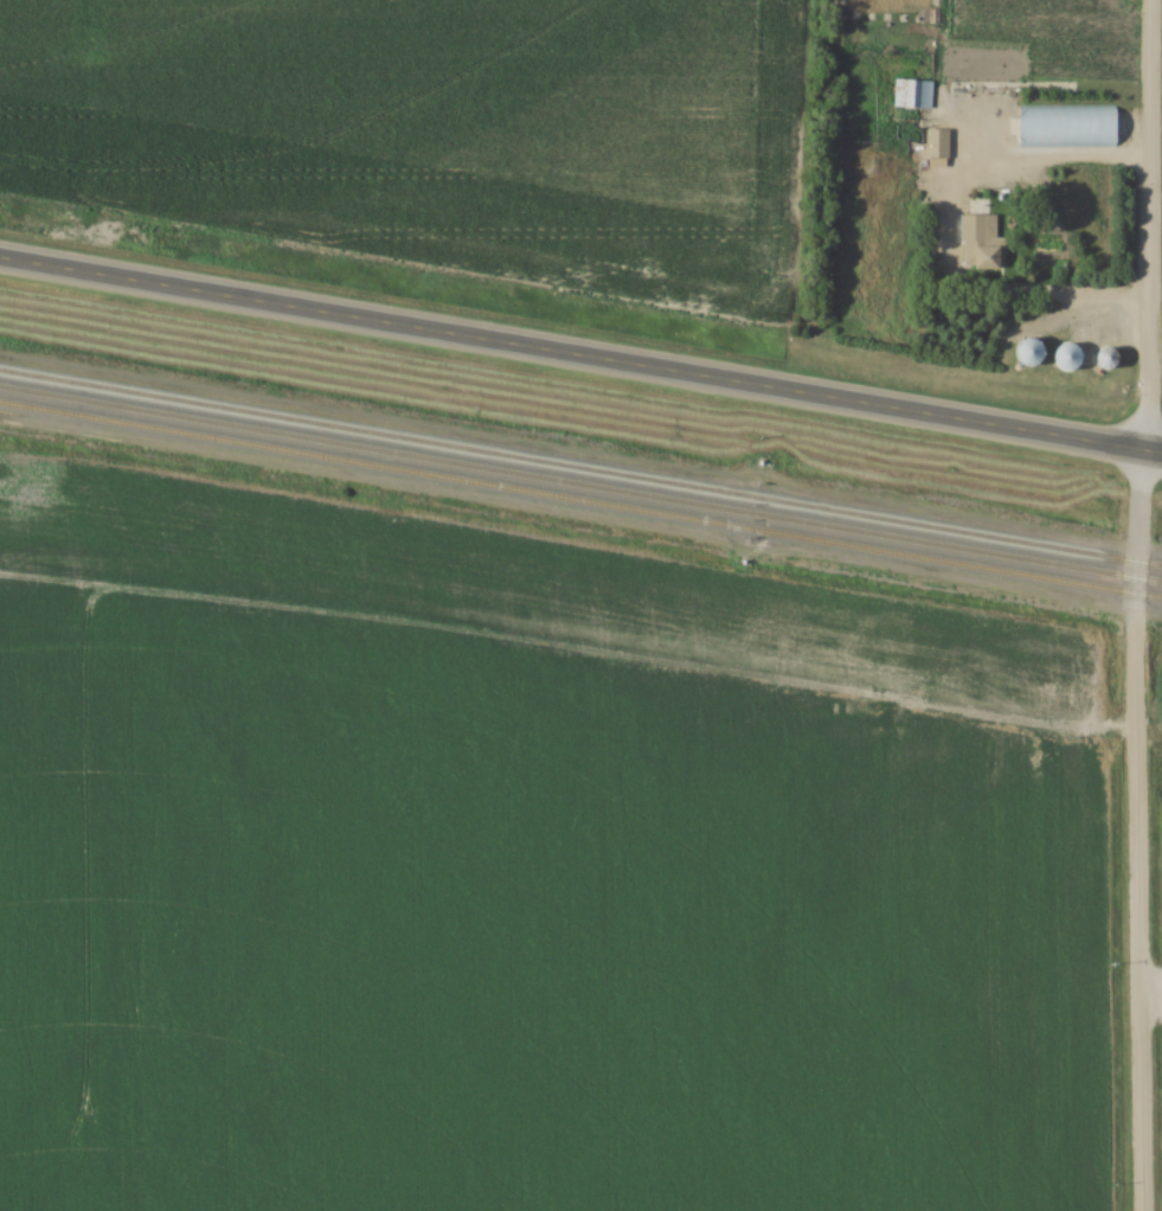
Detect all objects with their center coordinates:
building: (912, 94)
building: (1067, 126)
building: (981, 243)
road: (1027, 294)
building: (1029, 352)
road: (580, 353)
building: (1066, 355)
railway: (580, 466)
railway: (580, 483)
railway: (580, 498)
road: (1132, 604)
road: (1147, 1000)

